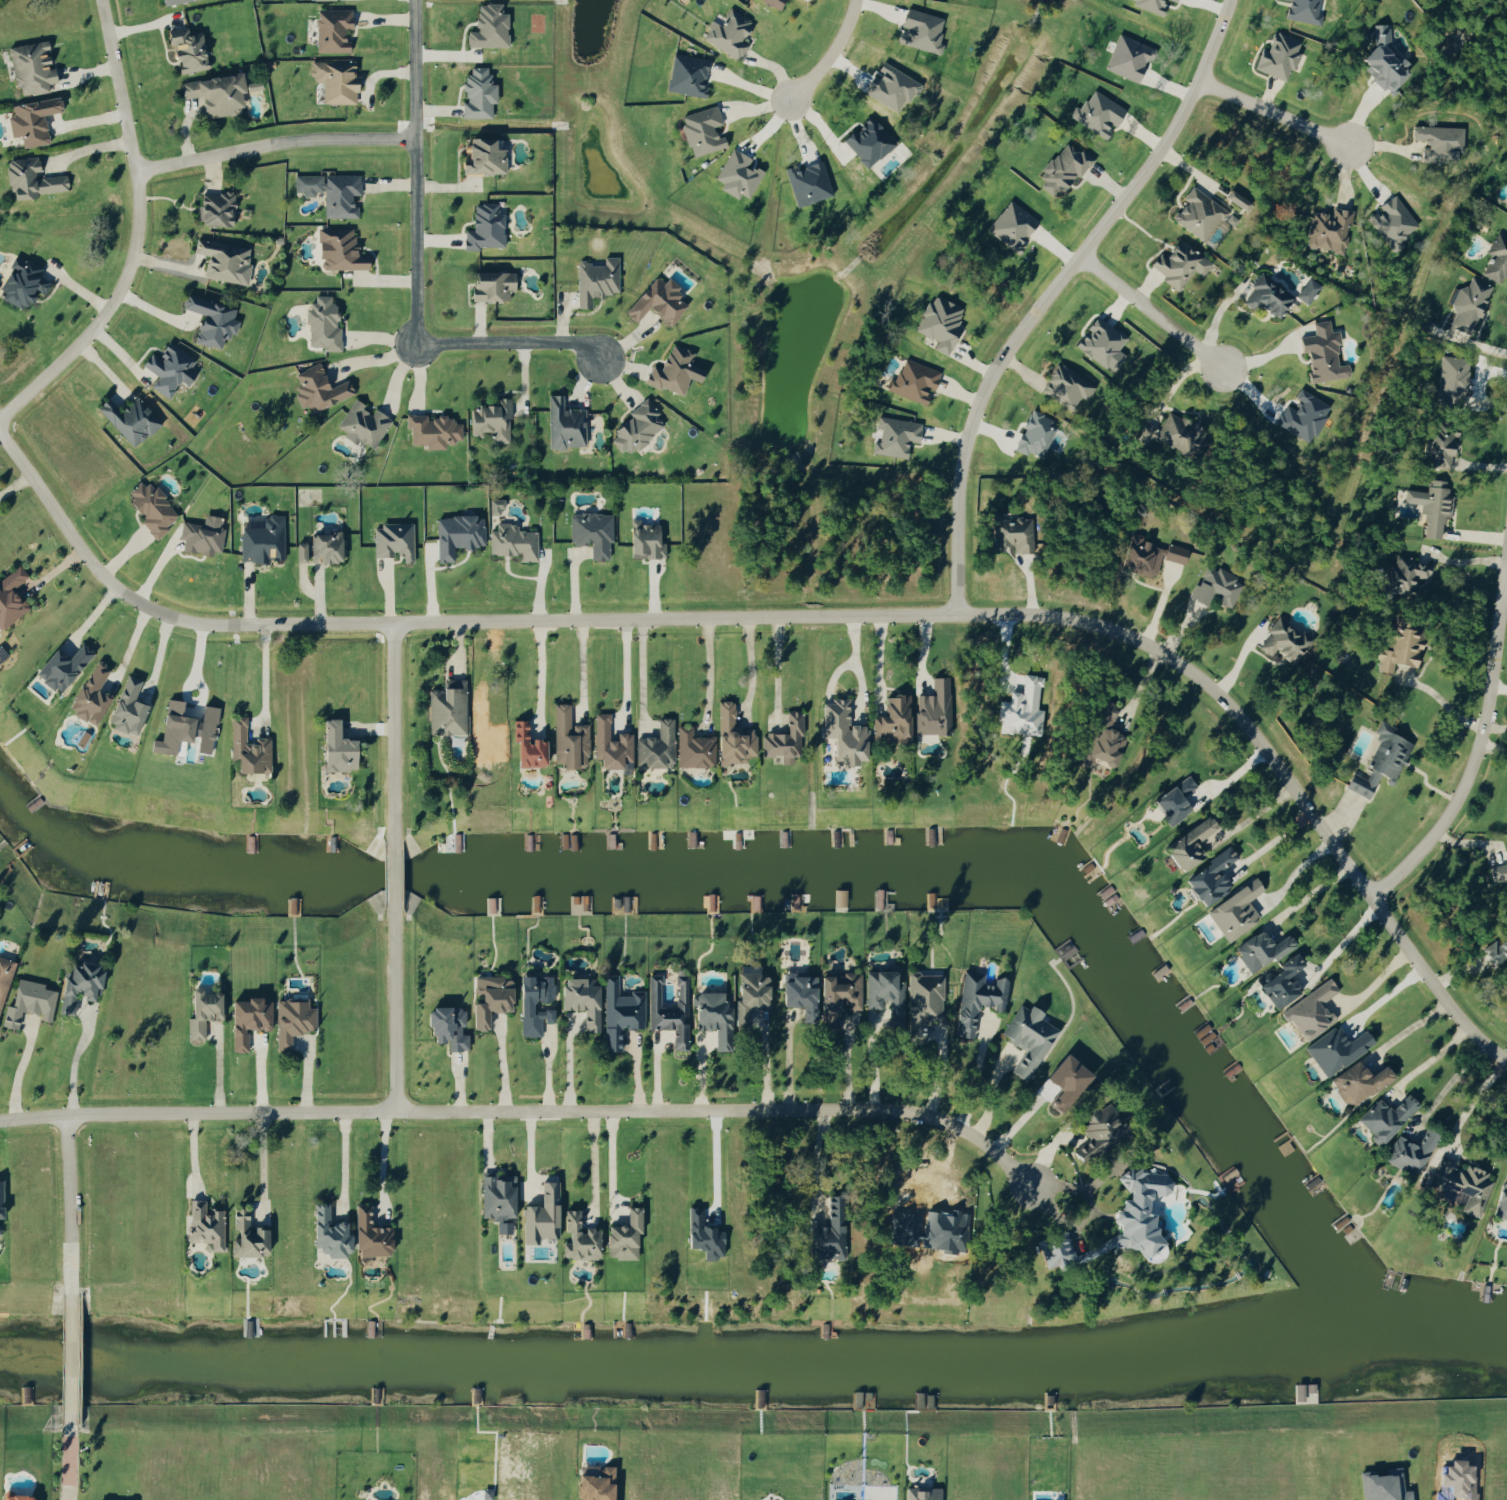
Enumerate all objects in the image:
building: (1173, 0)
building: (168, 1)
building: (773, 2)
building: (1149, 4)
building: (1302, 10)
building: (487, 26)
building: (331, 29)
building: (919, 30)
building: (728, 33)
building: (185, 48)
road: (830, 55)
building: (1277, 55)
building: (1127, 57)
building: (1381, 58)
building: (29, 67)
building: (685, 75)
building: (334, 80)
building: (214, 93)
building: (476, 93)
road: (1270, 112)
building: (1097, 113)
building: (30, 120)
building: (701, 130)
building: (1436, 139)
road: (274, 141)
building: (866, 141)
road: (86, 148)
building: (481, 156)
building: (1061, 168)
road: (415, 173)
building: (29, 178)
building: (806, 182)
building: (330, 191)
building: (1236, 199)
building: (214, 207)
building: (1197, 213)
building: (1010, 225)
building: (483, 227)
building: (1327, 229)
road: (133, 230)
building: (338, 249)
building: (1496, 259)
building: (223, 261)
building: (1178, 263)
building: (594, 279)
building: (20, 281)
building: (490, 285)
building: (1307, 290)
road: (1048, 293)
building: (1265, 295)
building: (655, 301)
building: (1467, 304)
road: (151, 308)
road: (1148, 312)
building: (209, 320)
building: (939, 322)
building: (321, 323)
building: (1099, 341)
road: (511, 344)
road: (119, 351)
building: (1321, 353)
road: (372, 357)
building: (167, 367)
building: (673, 370)
building: (1451, 378)
building: (913, 380)
building: (1066, 386)
building: (316, 388)
building: (1304, 416)
building: (127, 419)
building: (490, 420)
building: (362, 424)
building: (563, 424)
building: (634, 428)
building: (431, 430)
building: (1173, 433)
building: (1034, 434)
building: (894, 435)
building: (1440, 448)
road: (18, 489)
building: (1430, 505)
building: (494, 506)
building: (149, 507)
building: (591, 532)
building: (1010, 532)
building: (456, 534)
building: (199, 537)
building: (260, 539)
building: (642, 539)
building: (392, 540)
building: (512, 542)
building: (323, 547)
building: (299, 552)
building: (1147, 555)
road: (1504, 557)
building: (1403, 574)
road: (1504, 579)
building: (1212, 585)
building: (10, 595)
road: (703, 617)
building: (1281, 642)
building: (1399, 646)
road: (856, 660)
road: (163, 663)
road: (749, 663)
road: (580, 664)
road: (623, 665)
building: (59, 666)
road: (707, 668)
road: (640, 669)
road: (776, 669)
road: (538, 670)
road: (270, 671)
building: (88, 694)
building: (125, 707)
building: (446, 708)
building: (932, 709)
building: (1020, 709)
building: (890, 720)
building: (170, 727)
building: (204, 729)
road: (390, 731)
building: (840, 732)
building: (784, 736)
building: (1100, 738)
building: (567, 739)
building: (715, 742)
building: (655, 745)
building: (524, 746)
building: (334, 748)
building: (246, 749)
road: (1472, 753)
building: (1380, 760)
building: (1173, 800)
road: (1258, 820)
building: (1186, 845)
building: (1497, 872)
road: (1293, 874)
road: (391, 876)
building: (1207, 878)
road: (1310, 896)
building: (1234, 910)
road: (1346, 938)
building: (1496, 949)
building: (1259, 950)
road: (1372, 980)
building: (6, 981)
building: (1279, 982)
building: (86, 986)
road: (1432, 987)
building: (796, 988)
building: (749, 993)
building: (884, 993)
building: (836, 994)
building: (923, 995)
building: (488, 998)
building: (580, 999)
building: (976, 999)
building: (34, 1001)
building: (523, 1004)
building: (200, 1010)
building: (668, 1010)
road: (393, 1011)
building: (619, 1011)
building: (1310, 1011)
building: (710, 1012)
building: (245, 1019)
building: (290, 1019)
building: (445, 1025)
road: (1406, 1029)
building: (1027, 1037)
building: (1334, 1048)
road: (73, 1060)
road: (871, 1061)
road: (786, 1062)
road: (770, 1063)
road: (844, 1063)
road: (21, 1067)
road: (500, 1067)
road: (973, 1072)
building: (1063, 1079)
building: (1356, 1080)
road: (1452, 1090)
road: (525, 1111)
building: (1383, 1116)
building: (1097, 1128)
building: (1409, 1151)
road: (529, 1156)
road: (379, 1158)
road: (814, 1158)
road: (609, 1160)
road: (342, 1161)
road: (260, 1164)
road: (591, 1164)
road: (66, 1178)
building: (1462, 1182)
building: (496, 1199)
building: (1501, 1201)
building: (3, 1208)
building: (539, 1214)
building: (1116, 1222)
building: (204, 1224)
building: (826, 1231)
building: (325, 1232)
building: (368, 1233)
building: (245, 1234)
building: (621, 1235)
building: (577, 1237)
road: (68, 1267)
road: (67, 1358)
road: (66, 1462)
building: (1382, 1485)
building: (922, 1492)
building: (13, 1496)

